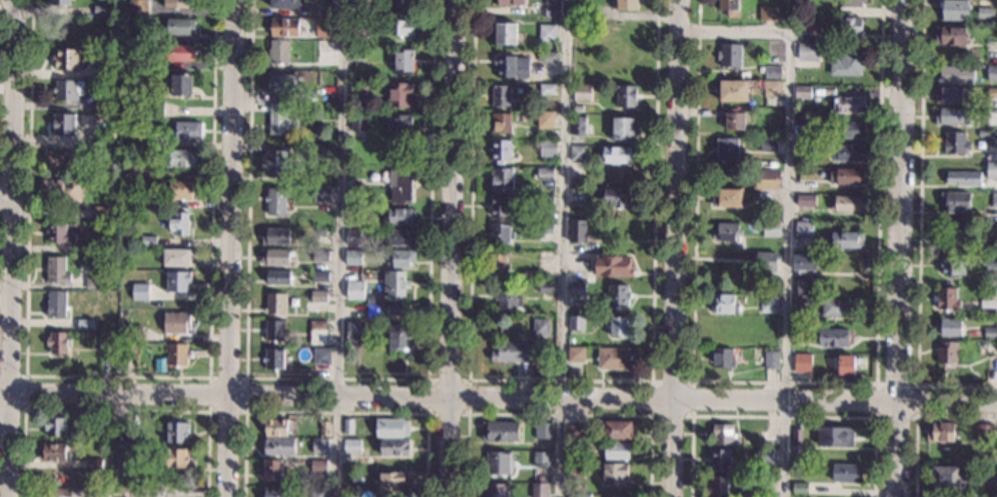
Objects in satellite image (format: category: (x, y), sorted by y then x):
building: (58, 2)
building: (511, 2)
building: (176, 3)
building: (287, 3)
building: (852, 3)
building: (626, 4)
building: (351, 6)
building: (137, 7)
building: (730, 7)
building: (331, 8)
building: (100, 9)
building: (370, 9)
building: (384, 9)
building: (407, 9)
building: (553, 9)
building: (954, 9)
building: (578, 13)
building: (765, 13)
building: (985, 13)
building: (801, 19)
building: (180, 26)
building: (284, 26)
building: (850, 26)
building: (402, 27)
building: (323, 29)
building: (359, 31)
building: (547, 32)
building: (506, 34)
road: (745, 34)
building: (951, 35)
building: (136, 36)
building: (324, 45)
building: (278, 51)
building: (179, 52)
building: (808, 52)
building: (357, 54)
building: (730, 55)
building: (547, 56)
building: (991, 56)
building: (67, 58)
building: (774, 59)
building: (403, 60)
building: (136, 63)
building: (847, 64)
building: (505, 66)
building: (108, 70)
building: (771, 71)
building: (992, 73)
building: (956, 75)
building: (281, 83)
building: (181, 84)
building: (359, 87)
building: (772, 88)
building: (67, 89)
building: (548, 89)
building: (734, 90)
building: (326, 92)
building: (582, 92)
building: (802, 92)
building: (992, 92)
building: (400, 94)
building: (501, 95)
building: (949, 95)
building: (627, 96)
building: (107, 101)
building: (849, 104)
building: (328, 107)
building: (578, 108)
building: (154, 110)
building: (952, 116)
building: (279, 119)
building: (545, 119)
building: (732, 119)
building: (358, 121)
building: (63, 123)
building: (501, 123)
building: (578, 124)
building: (400, 126)
building: (805, 127)
building: (622, 128)
building: (185, 130)
building: (849, 130)
building: (775, 131)
building: (982, 132)
building: (95, 136)
building: (109, 136)
building: (992, 139)
building: (769, 143)
building: (956, 143)
building: (804, 147)
building: (548, 148)
building: (727, 149)
building: (95, 151)
building: (325, 151)
building: (501, 151)
building: (578, 153)
building: (849, 153)
building: (616, 154)
building: (181, 159)
building: (57, 160)
building: (274, 163)
building: (131, 165)
building: (991, 169)
building: (544, 173)
building: (848, 176)
road: (14, 178)
building: (502, 178)
building: (964, 178)
building: (767, 179)
building: (575, 182)
building: (401, 186)
building: (137, 187)
building: (62, 189)
building: (180, 190)
road: (6, 191)
building: (321, 193)
building: (357, 196)
building: (617, 197)
building: (727, 197)
building: (806, 199)
building: (994, 199)
building: (148, 200)
building: (543, 200)
building: (275, 201)
building: (956, 201)
building: (849, 203)
building: (500, 206)
building: (101, 212)
building: (354, 212)
building: (400, 216)
building: (804, 218)
building: (179, 223)
building: (771, 228)
building: (804, 229)
building: (990, 229)
road: (920, 230)
building: (578, 231)
building: (545, 232)
building: (727, 232)
building: (58, 233)
building: (500, 234)
building: (274, 235)
building: (322, 236)
building: (355, 236)
building: (957, 236)
building: (399, 237)
building: (845, 240)
building: (148, 241)
building: (800, 245)
building: (91, 247)
building: (592, 247)
road: (10, 248)
road: (232, 248)
road: (451, 248)
road: (676, 248)
road: (899, 248)
building: (545, 254)
building: (320, 255)
building: (176, 257)
building: (274, 257)
road: (338, 257)
building: (353, 257)
building: (401, 257)
building: (498, 261)
road: (564, 261)
building: (767, 261)
building: (804, 262)
building: (991, 263)
building: (952, 265)
building: (613, 266)
road: (787, 266)
building: (56, 270)
building: (319, 276)
building: (277, 277)
building: (177, 281)
building: (95, 282)
building: (397, 283)
building: (756, 285)
building: (805, 286)
building: (546, 287)
building: (578, 288)
building: (355, 290)
building: (139, 291)
building: (318, 295)
building: (508, 295)
building: (618, 296)
building: (947, 299)
building: (368, 300)
building: (275, 303)
building: (724, 303)
building: (56, 304)
building: (769, 304)
building: (800, 305)
building: (835, 307)
building: (985, 308)
building: (374, 309)
building: (401, 309)
building: (990, 320)
building: (577, 322)
building: (176, 323)
building: (85, 324)
building: (720, 324)
building: (619, 325)
building: (950, 326)
building: (542, 327)
building: (274, 330)
building: (317, 332)
building: (356, 332)
building: (133, 333)
building: (990, 333)
building: (799, 335)
building: (398, 337)
building: (836, 337)
building: (58, 343)
building: (104, 343)
building: (130, 350)
building: (511, 351)
building: (947, 352)
building: (176, 354)
building: (576, 354)
building: (320, 356)
building: (273, 358)
building: (614, 358)
building: (722, 358)
building: (771, 359)
building: (802, 362)
building: (992, 363)
building: (846, 365)
building: (549, 367)
road: (118, 375)
road: (338, 377)
road: (562, 379)
road: (786, 381)
road: (26, 391)
road: (498, 399)
road: (116, 411)
road: (243, 411)
road: (334, 411)
road: (468, 413)
road: (559, 414)
road: (692, 415)
road: (783, 416)
road: (915, 417)
road: (916, 418)
building: (55, 426)
building: (279, 426)
building: (348, 426)
building: (392, 427)
building: (324, 428)
building: (544, 430)
building: (618, 430)
building: (104, 431)
building: (500, 431)
building: (941, 431)
building: (177, 432)
building: (575, 432)
building: (131, 433)
building: (723, 433)
building: (985, 433)
building: (797, 435)
building: (835, 436)
building: (768, 437)
building: (365, 444)
building: (319, 445)
building: (278, 446)
building: (352, 446)
building: (394, 446)
building: (617, 450)
building: (54, 453)
building: (574, 453)
building: (764, 455)
building: (173, 458)
building: (541, 458)
building: (721, 458)
building: (94, 463)
building: (499, 463)
building: (315, 465)
building: (104, 466)
building: (576, 467)
building: (133, 468)
building: (273, 469)
building: (847, 472)
building: (615, 473)
building: (541, 478)
building: (949, 478)
building: (989, 478)
building: (767, 481)
building: (392, 483)
building: (719, 485)
building: (800, 488)
building: (497, 490)
building: (540, 490)
building: (276, 492)
building: (318, 492)
building: (580, 494)
building: (622, 495)

